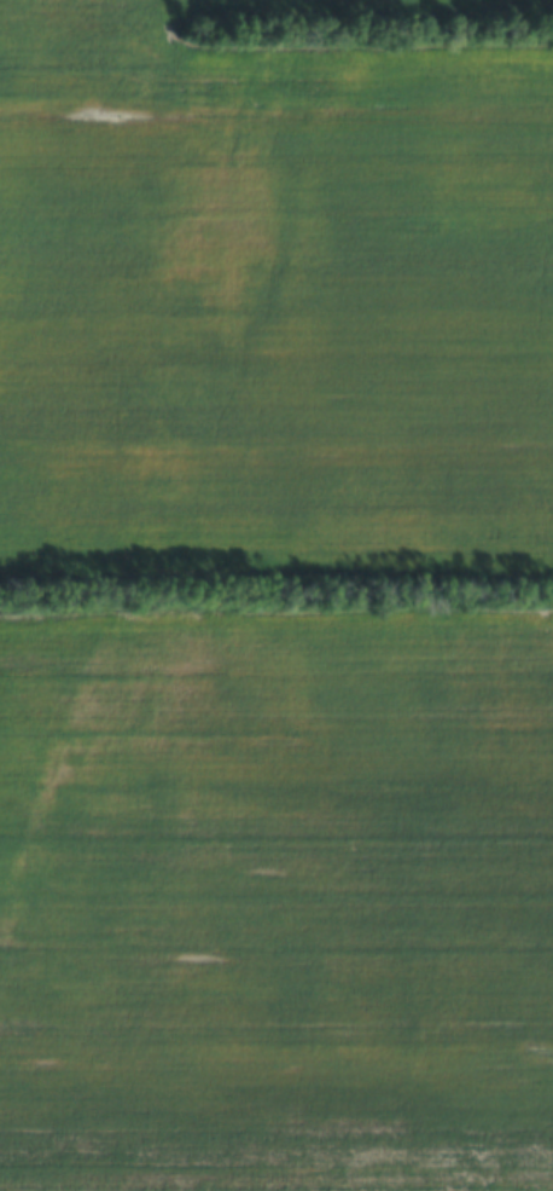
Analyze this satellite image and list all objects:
road: (276, 1181)

